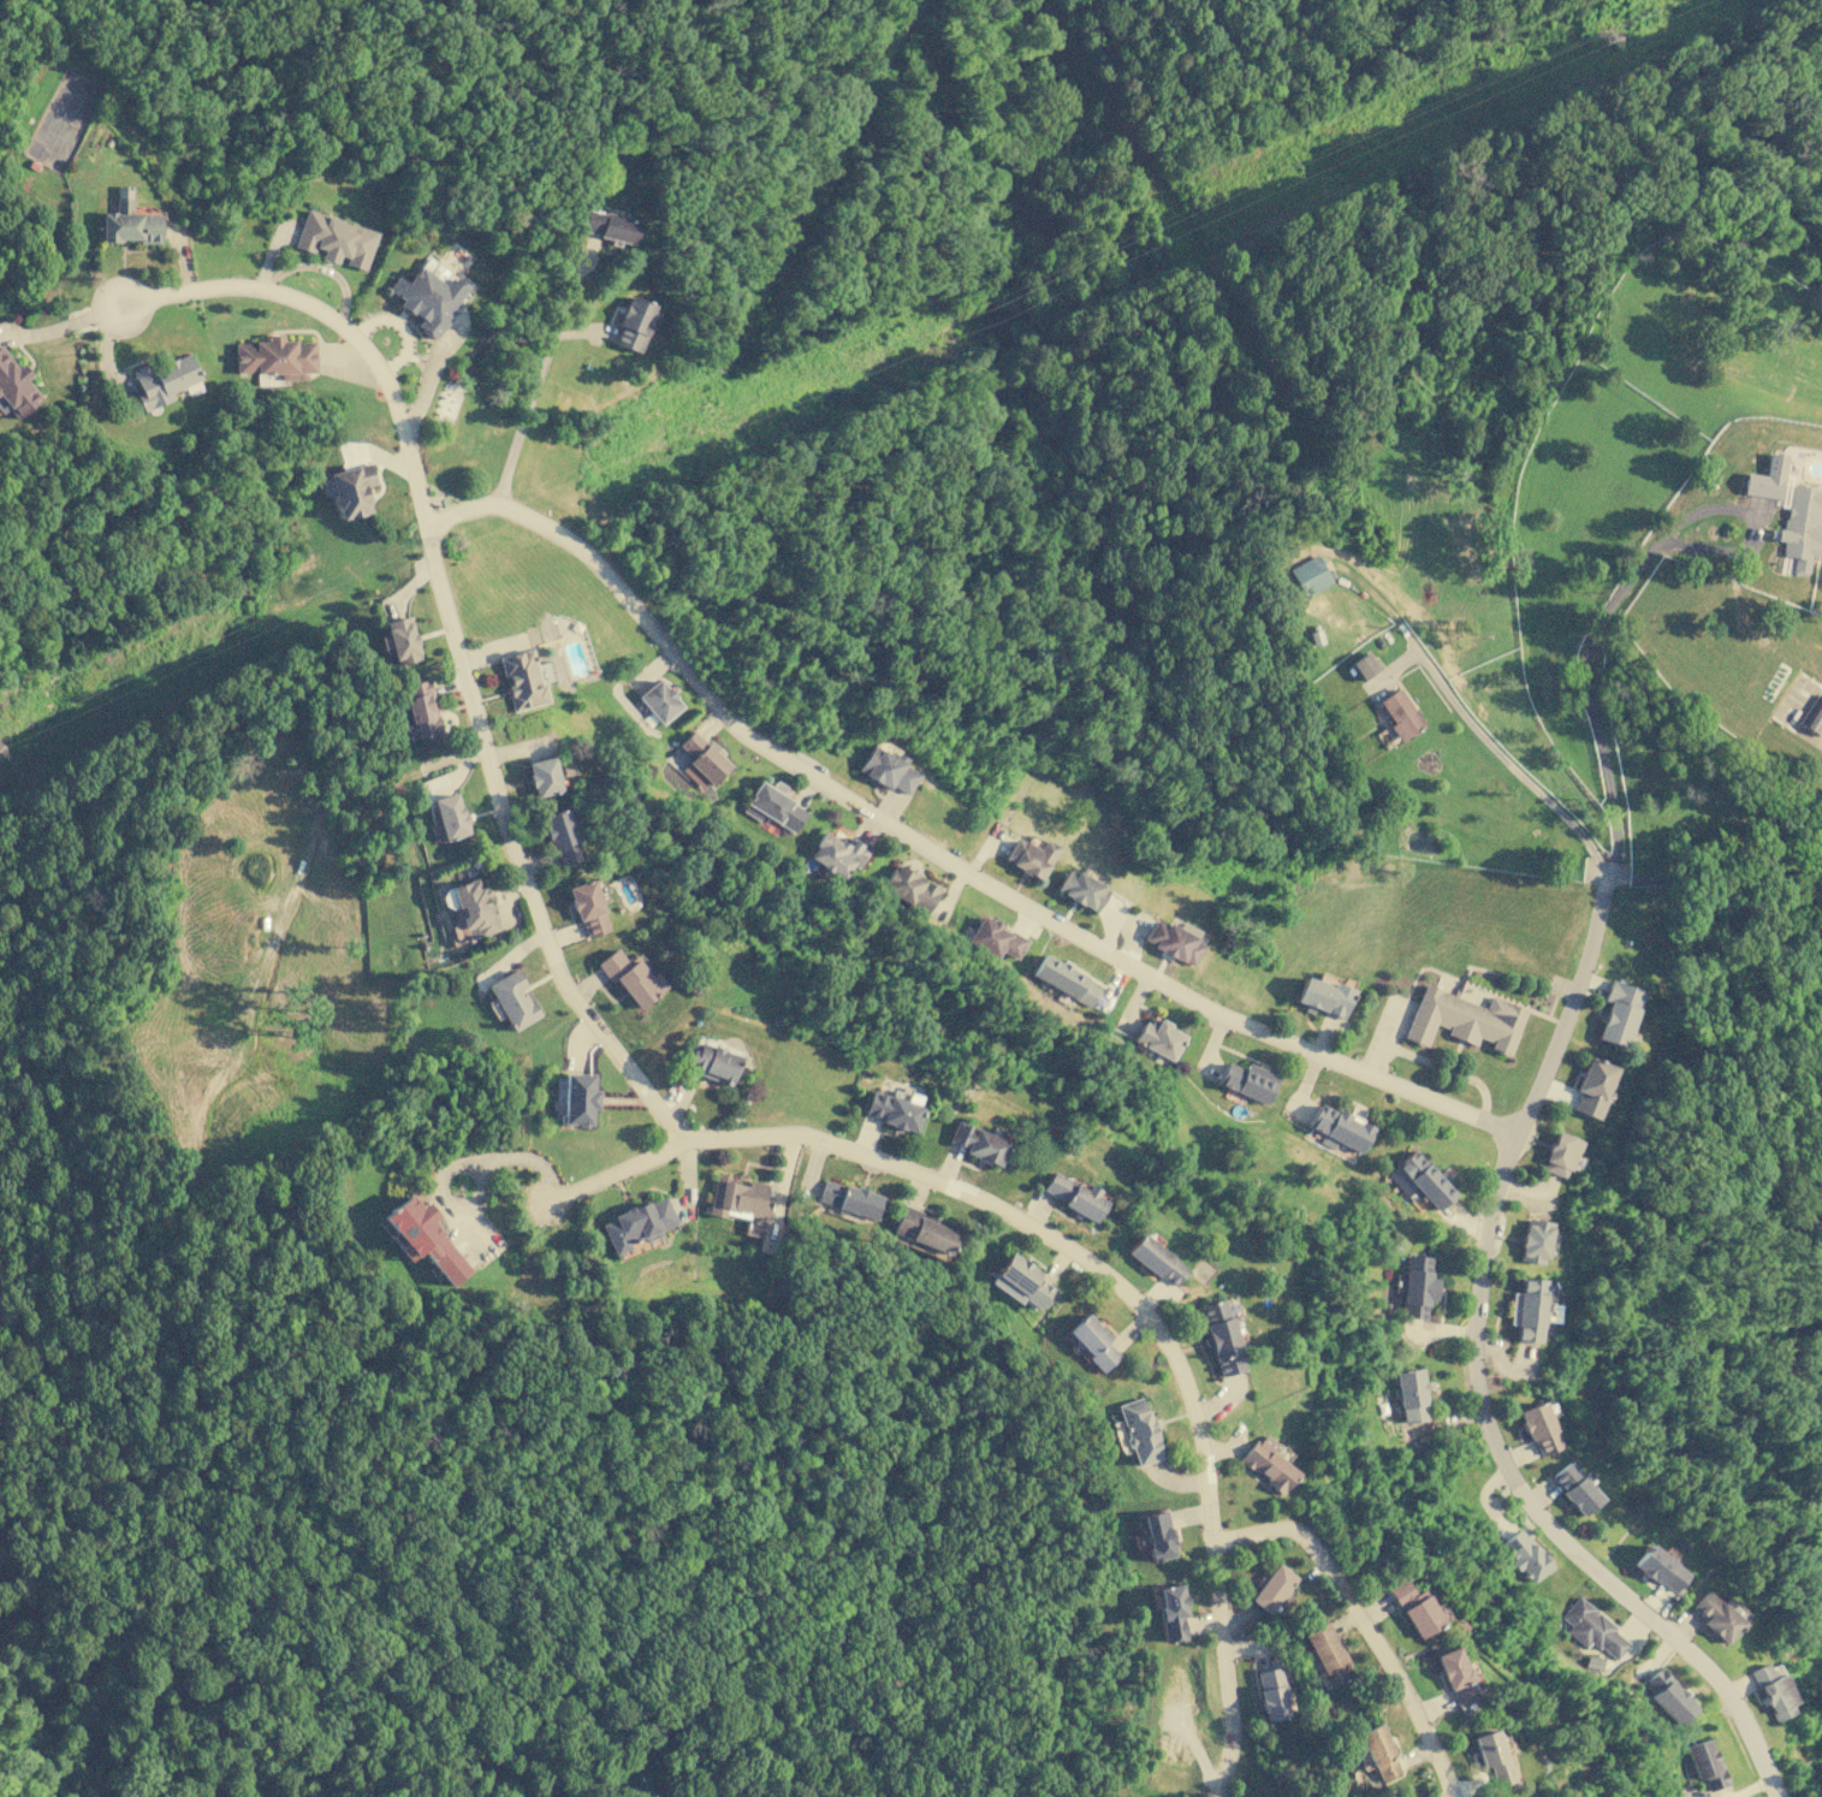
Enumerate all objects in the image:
building: (129, 220)
building: (610, 225)
building: (336, 239)
building: (428, 295)
road: (332, 322)
building: (631, 324)
building: (274, 357)
building: (162, 380)
building: (14, 386)
road: (523, 416)
building: (1767, 478)
building: (350, 490)
building: (1800, 526)
building: (1308, 576)
building: (399, 640)
building: (1363, 666)
building: (522, 678)
road: (1580, 692)
building: (658, 700)
building: (421, 707)
building: (1399, 714)
building: (1812, 716)
road: (481, 722)
road: (1497, 754)
building: (700, 760)
building: (888, 769)
building: (546, 776)
building: (772, 805)
building: (449, 816)
building: (558, 830)
building: (837, 853)
building: (1029, 856)
building: (910, 889)
building: (1081, 889)
building: (470, 907)
building: (587, 908)
building: (995, 938)
building: (1171, 942)
building: (630, 978)
building: (1066, 979)
building: (1323, 997)
building: (512, 1000)
building: (1616, 1012)
building: (1464, 1019)
building: (1158, 1037)
building: (713, 1062)
building: (1247, 1080)
building: (1591, 1086)
building: (575, 1098)
building: (891, 1110)
building: (1339, 1128)
building: (975, 1141)
building: (1559, 1155)
road: (461, 1169)
road: (609, 1175)
building: (1424, 1178)
building: (849, 1198)
building: (740, 1202)
building: (637, 1223)
building: (921, 1229)
building: (423, 1238)
building: (1533, 1240)
building: (1156, 1259)
building: (1020, 1282)
building: (1414, 1286)
building: (1527, 1309)
building: (1221, 1338)
building: (1092, 1342)
road: (1478, 1376)
building: (1409, 1394)
building: (1539, 1428)
building: (1138, 1430)
building: (1268, 1464)
building: (1573, 1488)
building: (1157, 1535)
building: (1524, 1555)
building: (1660, 1567)
building: (1271, 1588)
building: (1414, 1608)
building: (1170, 1611)
building: (1716, 1614)
road: (1361, 1621)
building: (1592, 1629)
building: (1325, 1654)
building: (1456, 1676)
building: (1271, 1692)
building: (1774, 1692)
building: (1669, 1696)
building: (1378, 1751)
building: (1491, 1755)
building: (1705, 1762)

